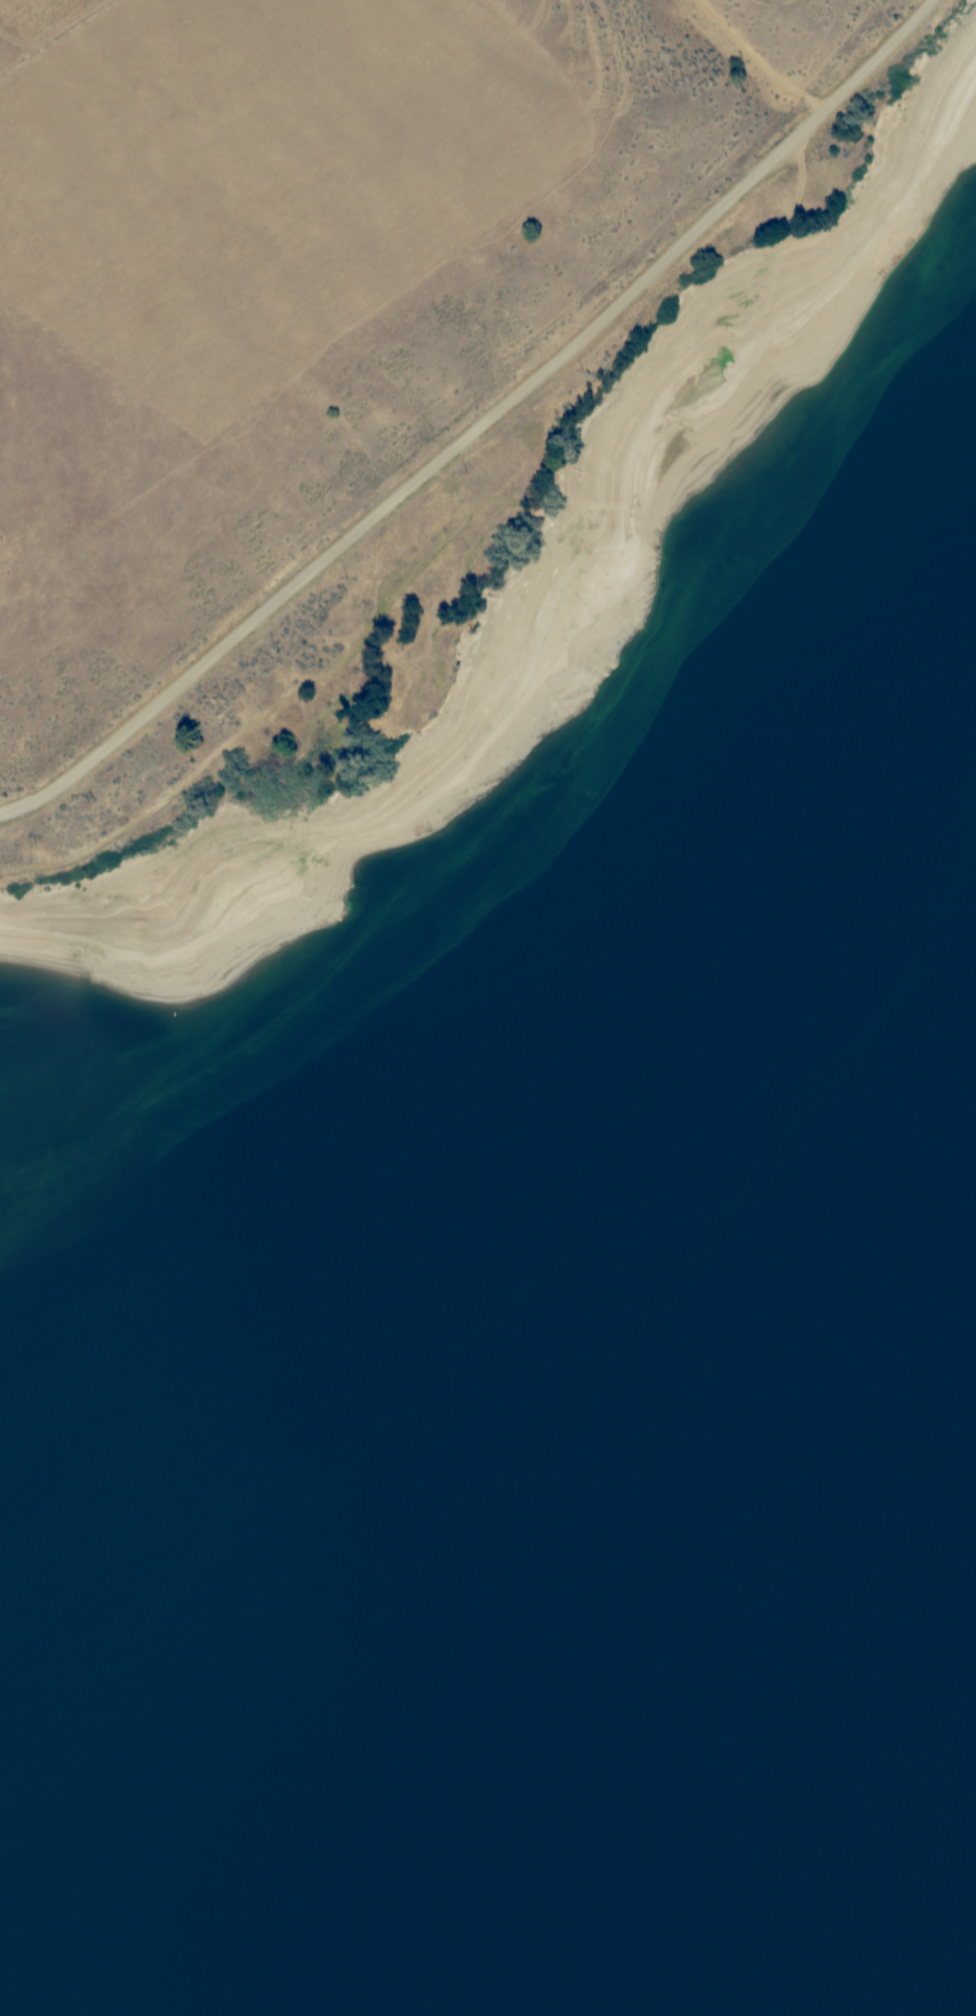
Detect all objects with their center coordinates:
road: (480, 425)
river: (961, 1985)

